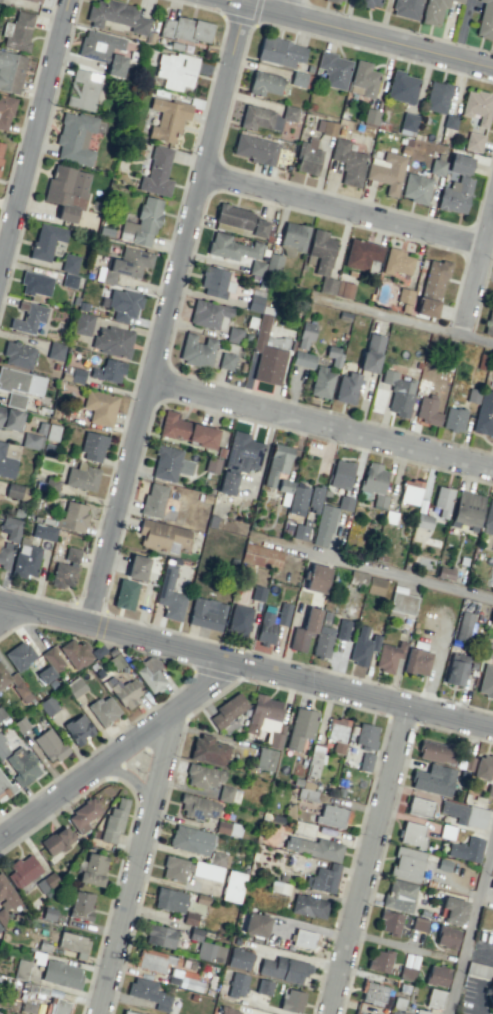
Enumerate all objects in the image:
building: (38, 0)
building: (339, 0)
building: (458, 0)
building: (369, 3)
building: (406, 8)
road: (295, 10)
building: (433, 12)
building: (116, 15)
building: (485, 20)
building: (186, 29)
building: (17, 32)
road: (355, 36)
building: (103, 50)
building: (280, 51)
building: (334, 69)
building: (176, 70)
building: (10, 71)
building: (364, 78)
building: (301, 79)
building: (264, 83)
building: (402, 87)
building: (83, 89)
building: (437, 96)
building: (478, 106)
building: (5, 111)
building: (371, 116)
building: (266, 117)
building: (167, 118)
building: (450, 121)
building: (408, 123)
building: (326, 127)
building: (75, 137)
road: (37, 142)
building: (474, 142)
building: (1, 149)
building: (254, 149)
building: (308, 157)
building: (348, 162)
building: (437, 167)
building: (387, 171)
building: (156, 172)
building: (456, 186)
building: (416, 188)
building: (67, 191)
road: (348, 213)
building: (239, 219)
building: (142, 223)
building: (294, 236)
building: (46, 240)
building: (232, 247)
building: (361, 254)
building: (398, 262)
building: (127, 264)
building: (266, 264)
building: (326, 264)
building: (69, 270)
building: (434, 278)
building: (215, 282)
building: (35, 283)
road: (479, 284)
building: (404, 295)
building: (255, 302)
building: (123, 304)
building: (426, 307)
building: (208, 313)
building: (28, 317)
road: (173, 317)
building: (489, 320)
road: (407, 323)
building: (82, 324)
building: (234, 334)
building: (305, 334)
building: (112, 341)
building: (55, 350)
building: (196, 351)
building: (268, 351)
building: (371, 353)
building: (18, 355)
building: (333, 355)
building: (303, 359)
building: (226, 361)
building: (109, 371)
building: (21, 381)
building: (321, 382)
building: (346, 388)
building: (398, 393)
building: (472, 395)
building: (15, 400)
building: (100, 407)
building: (427, 410)
building: (484, 414)
building: (11, 418)
building: (454, 419)
road: (325, 426)
building: (186, 430)
building: (52, 432)
building: (31, 441)
building: (92, 447)
building: (243, 452)
building: (6, 463)
building: (169, 463)
building: (276, 463)
building: (341, 474)
building: (82, 478)
building: (227, 483)
building: (374, 484)
building: (51, 485)
building: (284, 485)
building: (16, 491)
building: (410, 491)
building: (314, 499)
building: (153, 500)
building: (297, 500)
building: (442, 501)
building: (345, 503)
building: (467, 510)
building: (73, 517)
building: (488, 518)
building: (324, 525)
building: (13, 532)
building: (44, 532)
building: (300, 532)
building: (162, 536)
building: (261, 556)
building: (4, 557)
building: (25, 560)
building: (137, 567)
building: (65, 569)
road: (396, 572)
building: (359, 576)
building: (317, 578)
building: (375, 586)
building: (169, 593)
building: (125, 594)
building: (401, 601)
building: (206, 613)
building: (283, 614)
building: (491, 618)
road: (13, 620)
building: (239, 620)
building: (464, 626)
building: (266, 628)
building: (342, 629)
building: (304, 630)
building: (323, 636)
building: (362, 645)
building: (489, 650)
building: (75, 653)
building: (19, 655)
building: (389, 656)
building: (52, 659)
building: (415, 661)
road: (246, 667)
building: (456, 669)
building: (45, 674)
building: (150, 675)
building: (486, 681)
building: (13, 683)
building: (75, 687)
building: (125, 693)
building: (48, 705)
building: (103, 710)
building: (228, 710)
building: (266, 718)
building: (229, 726)
building: (301, 728)
building: (78, 729)
building: (337, 733)
building: (366, 736)
building: (49, 745)
building: (3, 748)
building: (208, 750)
building: (436, 752)
road: (121, 756)
building: (265, 759)
building: (365, 761)
building: (468, 763)
building: (22, 765)
building: (484, 767)
building: (203, 775)
road: (133, 779)
building: (434, 780)
building: (4, 787)
building: (225, 793)
building: (306, 793)
building: (198, 807)
building: (420, 807)
building: (465, 814)
building: (83, 815)
building: (331, 815)
building: (113, 821)
building: (228, 828)
building: (412, 834)
building: (57, 840)
building: (191, 840)
building: (314, 847)
building: (466, 849)
road: (372, 861)
building: (407, 864)
road: (140, 868)
building: (175, 868)
building: (92, 869)
building: (23, 870)
building: (206, 871)
building: (323, 878)
building: (47, 881)
building: (491, 885)
building: (232, 886)
building: (399, 895)
building: (6, 897)
building: (170, 900)
building: (81, 905)
building: (309, 906)
building: (452, 909)
building: (390, 922)
building: (256, 924)
building: (0, 928)
road: (471, 929)
building: (160, 936)
building: (447, 937)
building: (303, 938)
building: (74, 944)
building: (210, 952)
building: (239, 958)
building: (153, 960)
building: (380, 961)
building: (283, 969)
building: (61, 974)
building: (437, 975)
building: (183, 979)
building: (237, 984)
building: (263, 987)
building: (149, 993)
building: (373, 993)
building: (435, 998)
building: (490, 999)
building: (292, 1000)
building: (58, 1006)
building: (228, 1011)
building: (129, 1012)
building: (396, 1012)
building: (359, 1013)

